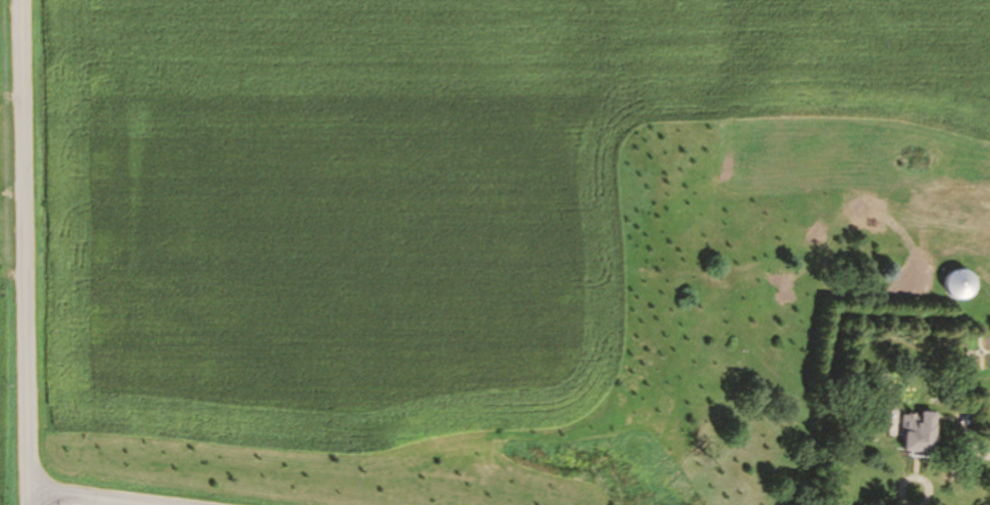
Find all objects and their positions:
building: (936, 243)
road: (28, 245)
building: (952, 284)
building: (911, 433)
road: (25, 498)
road: (84, 498)

